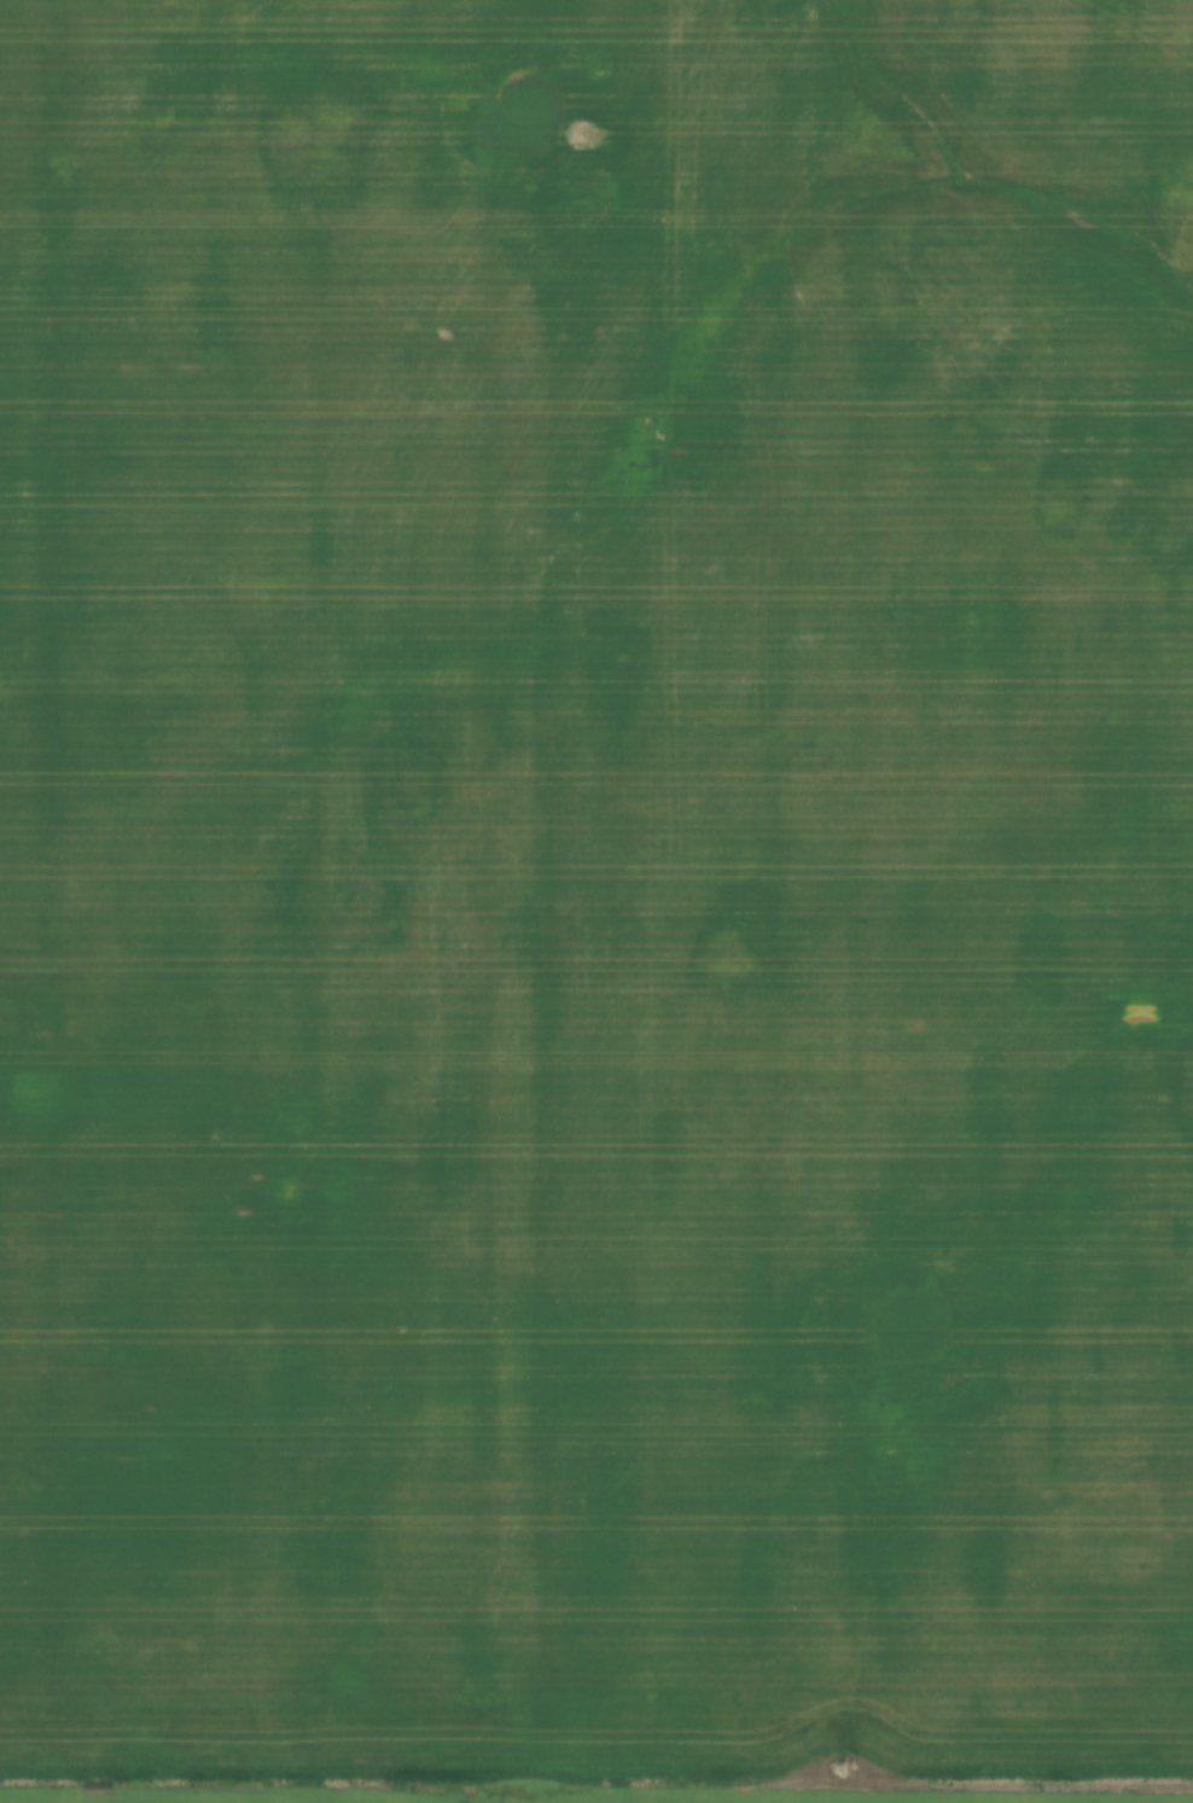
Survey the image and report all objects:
road: (596, 1786)

